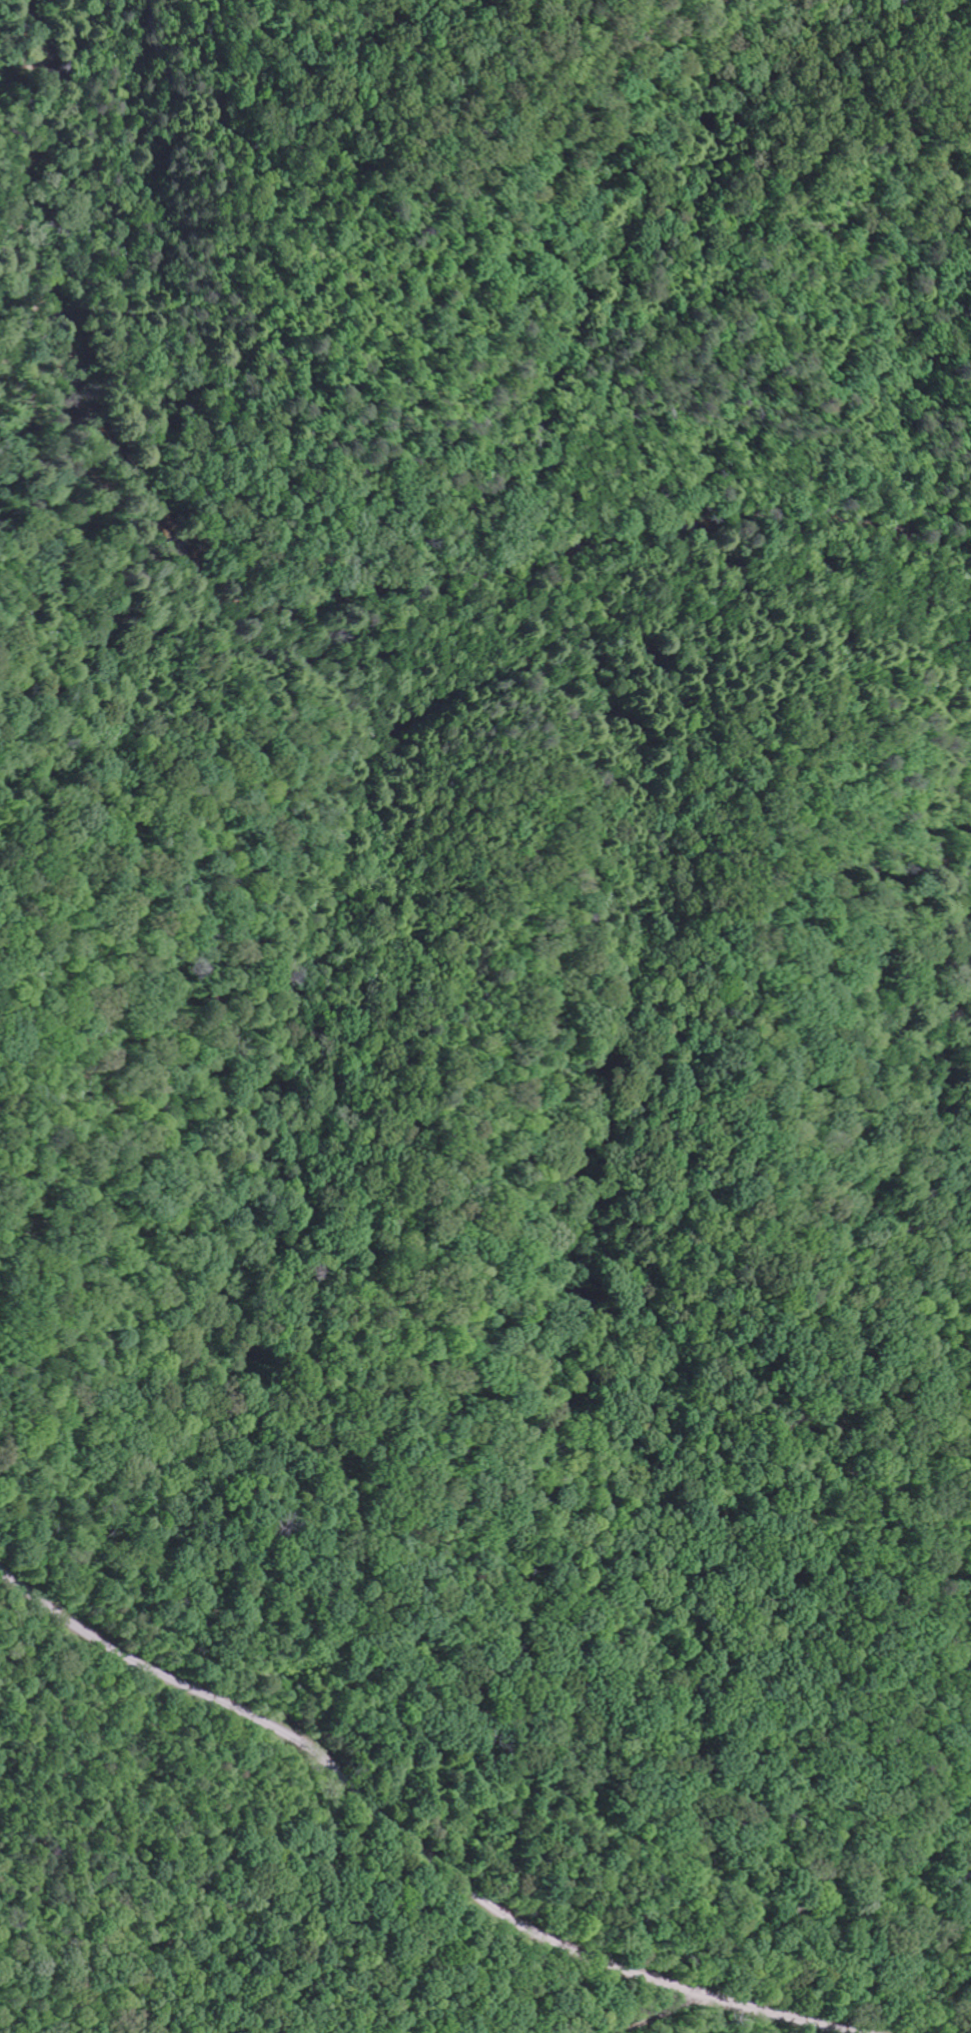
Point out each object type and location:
road: (311, 1749)
road: (669, 1984)

